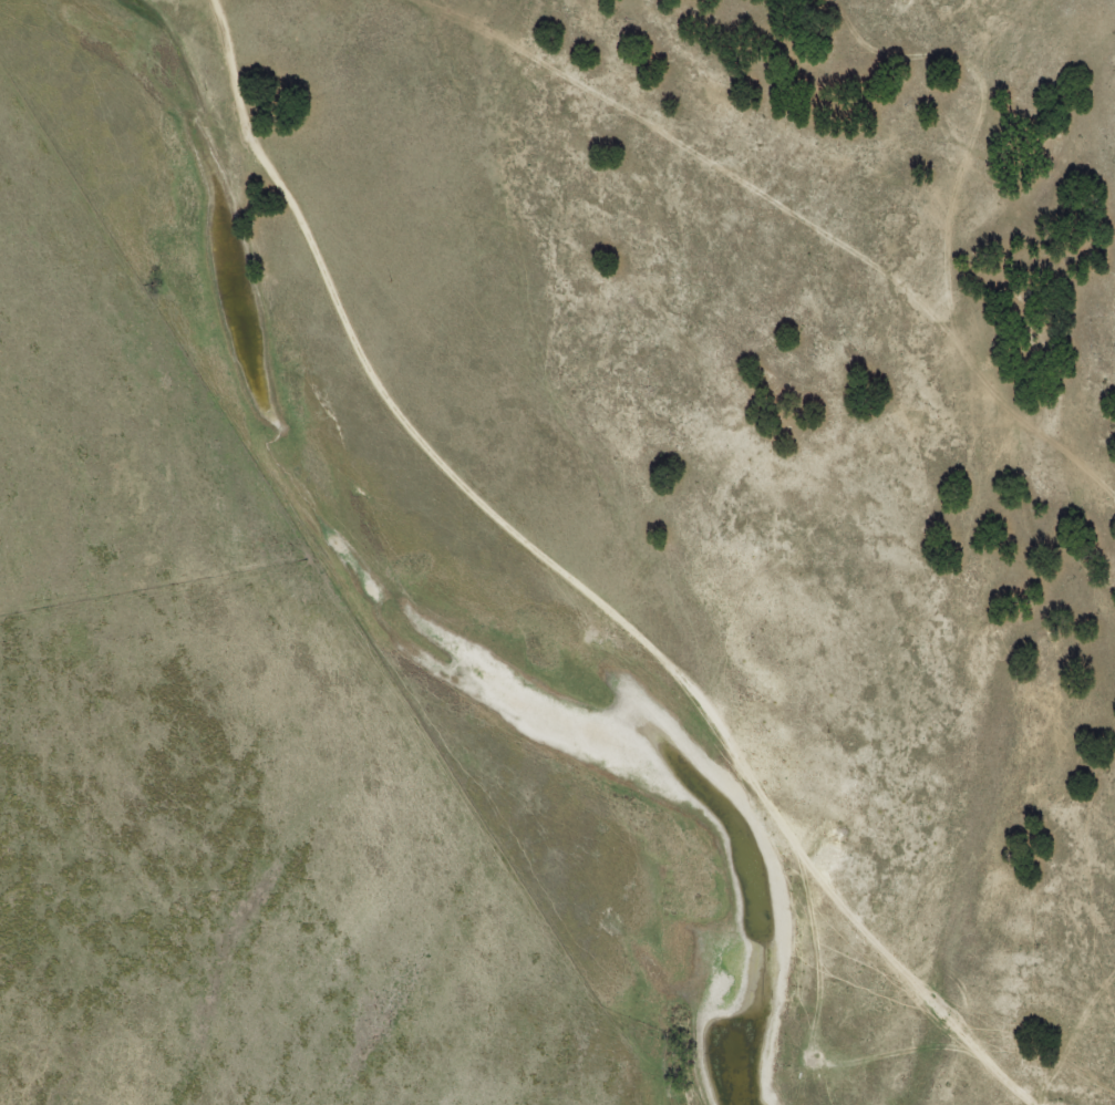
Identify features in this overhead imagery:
road: (564, 584)

